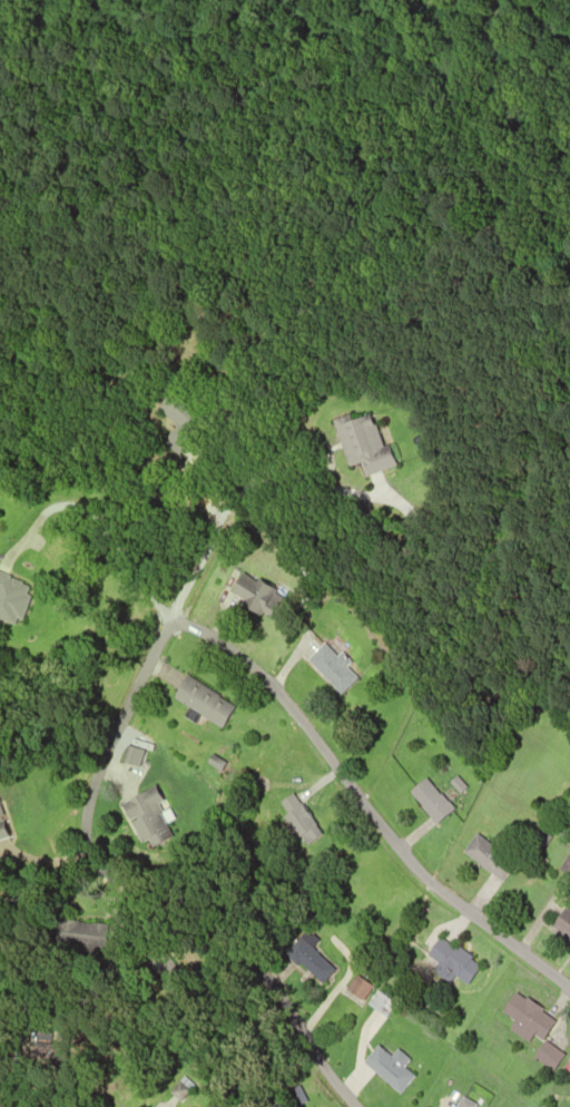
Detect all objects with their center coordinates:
building: (178, 413)
building: (357, 438)
building: (3, 493)
road: (190, 568)
building: (0, 570)
building: (253, 595)
building: (10, 596)
building: (328, 667)
building: (199, 701)
building: (126, 756)
building: (216, 765)
building: (426, 800)
road: (360, 811)
building: (145, 816)
building: (293, 820)
building: (0, 829)
building: (534, 837)
building: (484, 858)
building: (564, 864)
road: (128, 890)
building: (562, 923)
building: (79, 933)
building: (304, 958)
building: (448, 960)
building: (364, 995)
building: (524, 1017)
building: (569, 1049)
building: (546, 1054)
building: (383, 1068)
building: (177, 1090)
building: (462, 1104)
building: (187, 1106)

